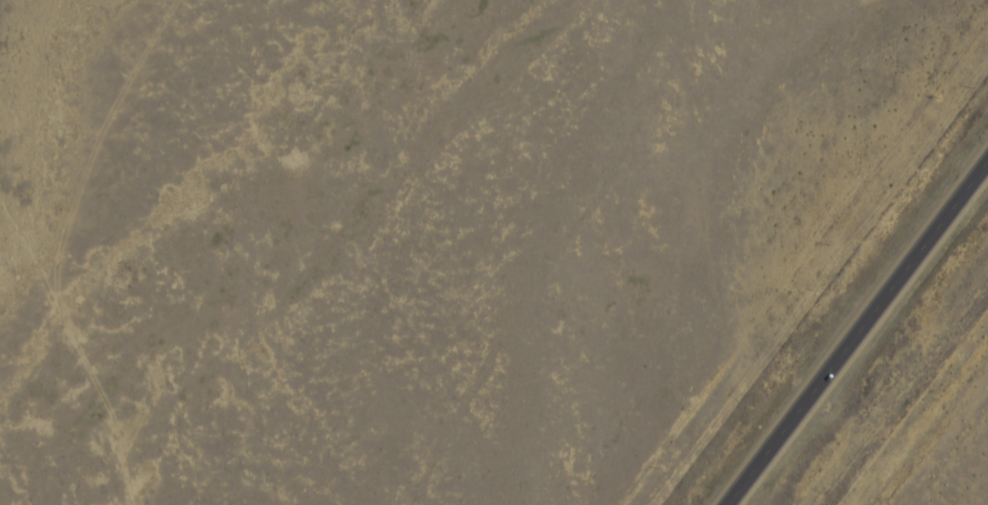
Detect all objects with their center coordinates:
road: (362, 251)
road: (856, 331)

